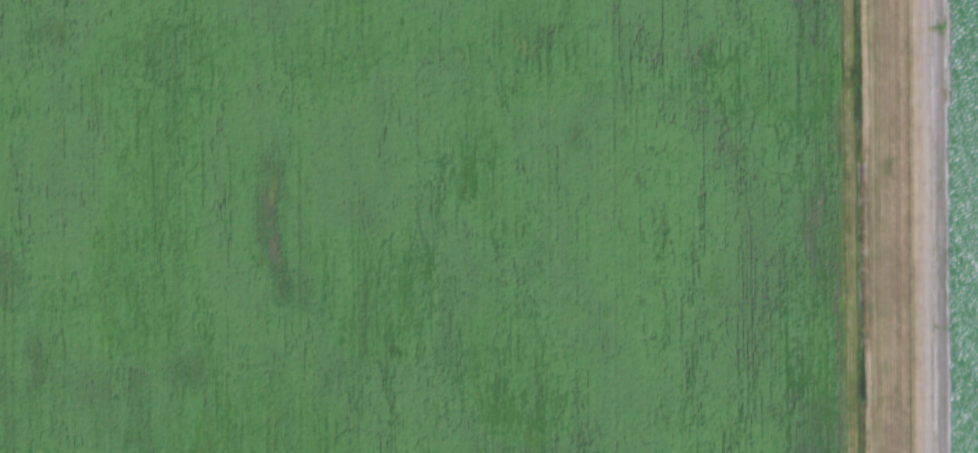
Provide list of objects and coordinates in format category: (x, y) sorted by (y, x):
wastewater plant: (943, 225)
crop: (421, 226)

